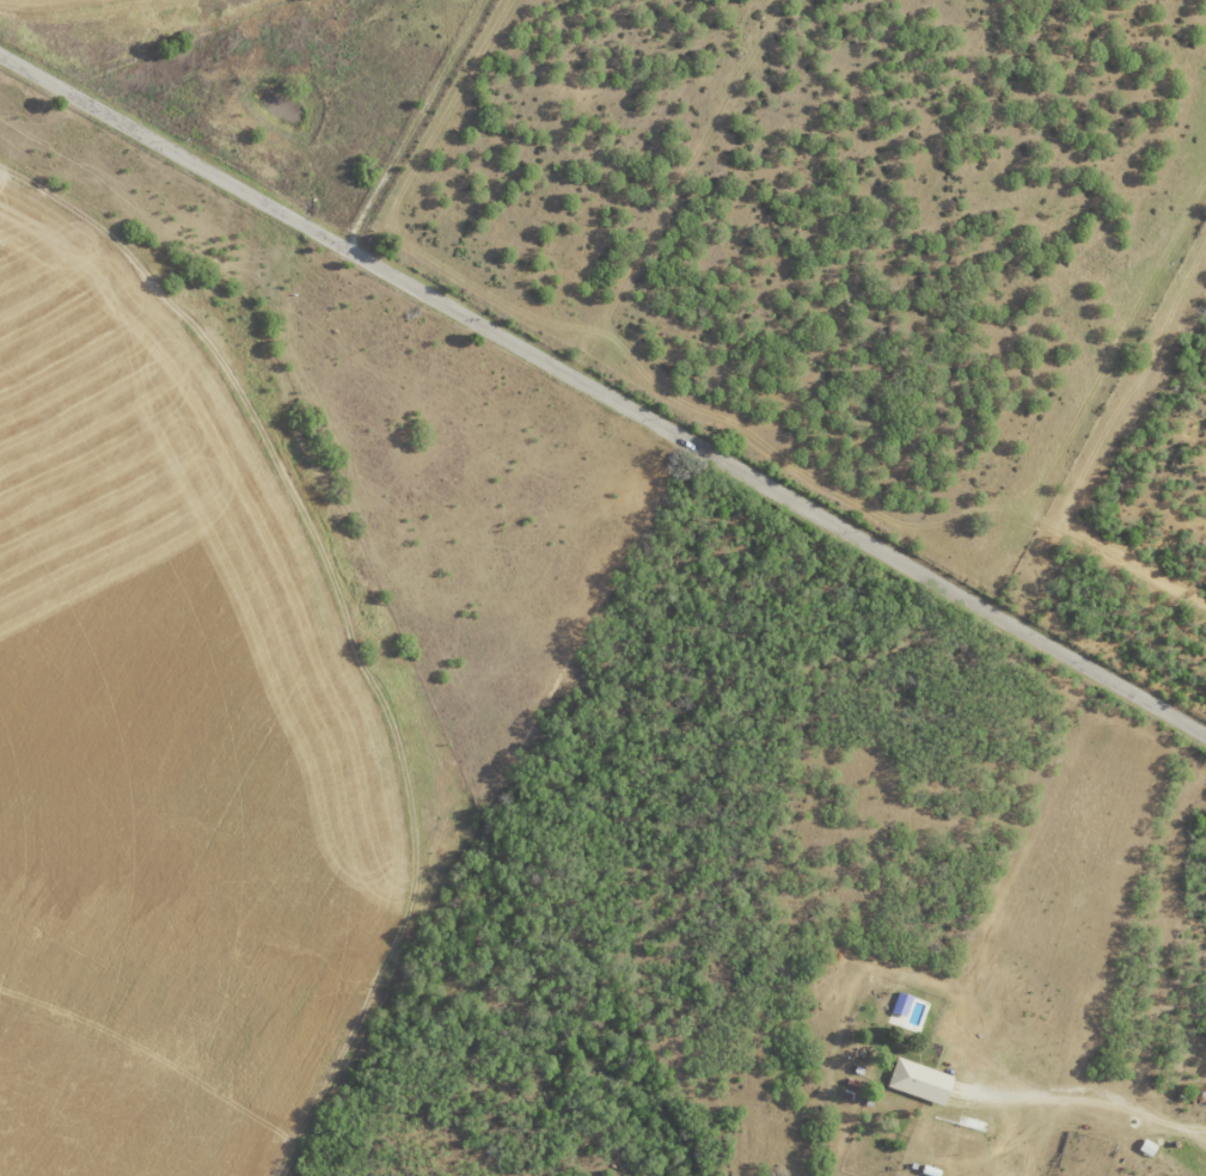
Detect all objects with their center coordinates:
road: (417, 124)
road: (602, 393)
building: (923, 1080)
road: (1091, 1096)

